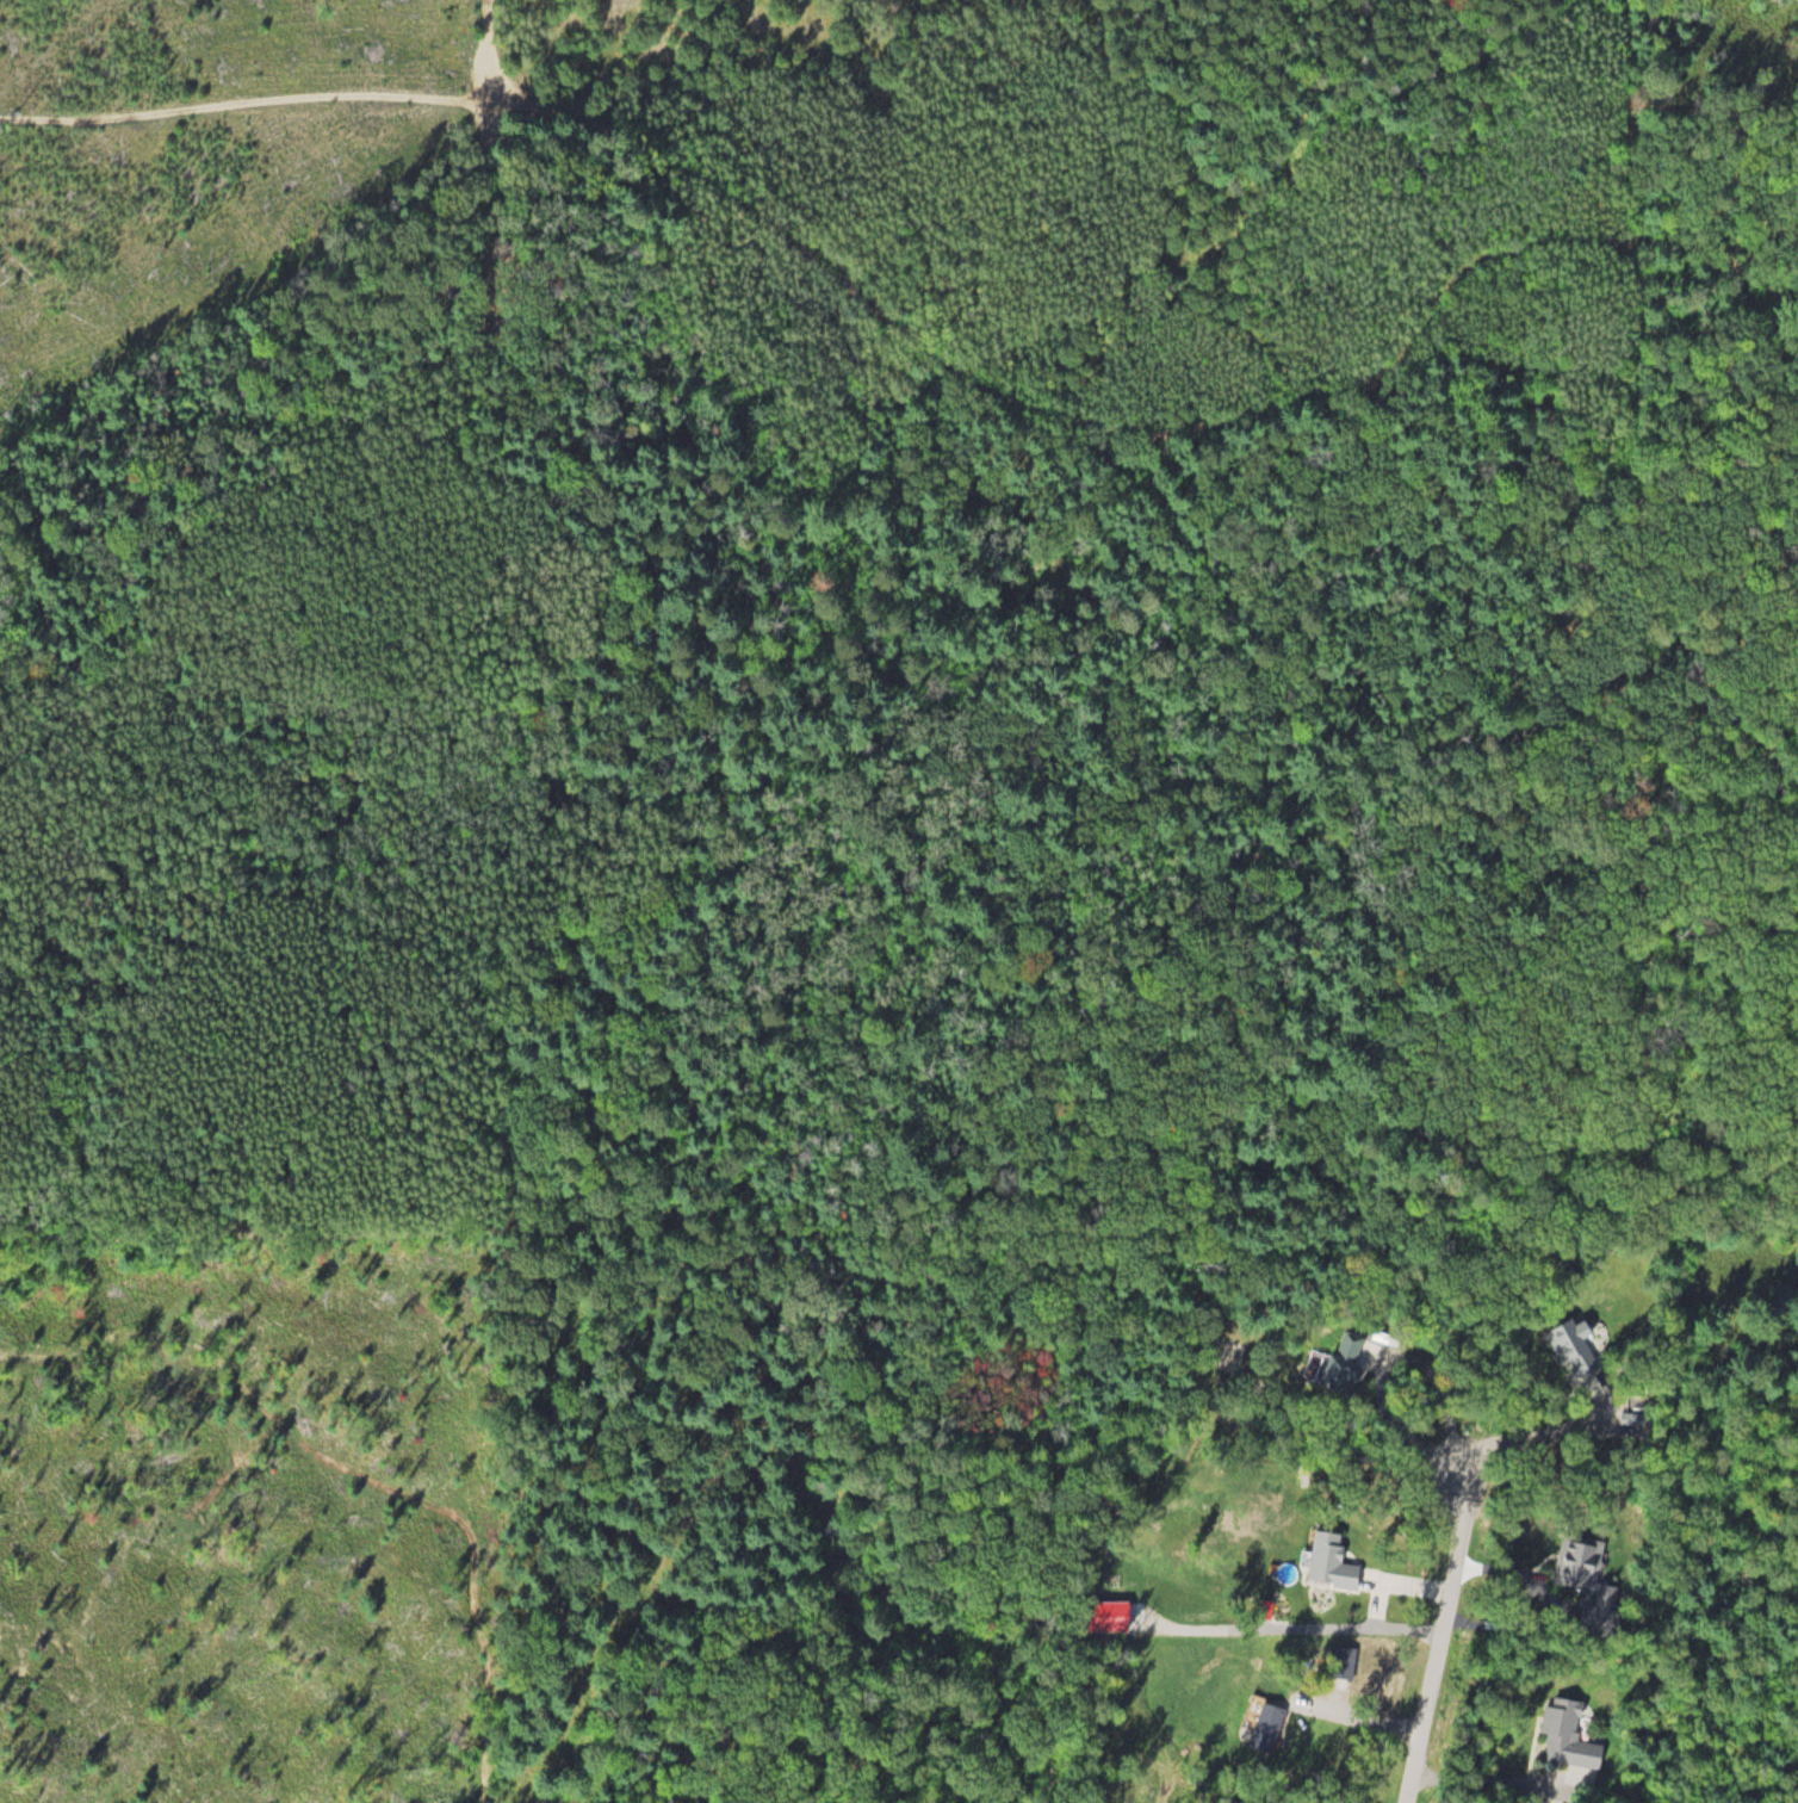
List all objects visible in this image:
road: (943, 349)
building: (1582, 1357)
building: (1354, 1363)
road: (1544, 1435)
road: (1424, 1452)
building: (1334, 1561)
building: (1585, 1566)
road: (1493, 1572)
building: (1118, 1616)
road: (1444, 1624)
road: (1304, 1631)
building: (1269, 1724)
building: (1585, 1739)
road: (1482, 1780)

